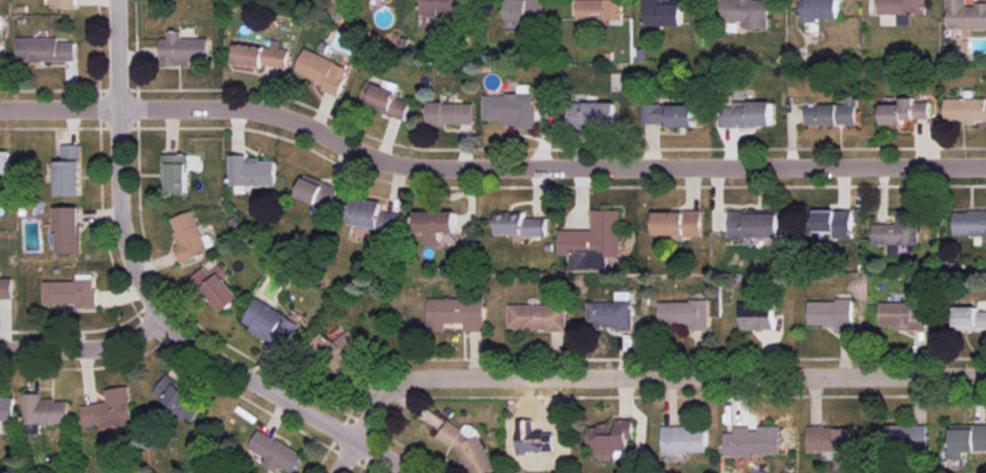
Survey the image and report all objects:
building: (63, 3)
building: (448, 6)
building: (902, 9)
building: (600, 10)
building: (819, 10)
building: (524, 12)
building: (747, 12)
building: (663, 14)
building: (966, 15)
building: (184, 49)
building: (45, 50)
building: (2, 55)
building: (261, 56)
building: (322, 71)
building: (384, 99)
building: (510, 109)
building: (966, 109)
building: (904, 111)
building: (450, 113)
building: (593, 113)
building: (832, 113)
building: (669, 114)
building: (747, 114)
building: (5, 161)
road: (486, 167)
building: (69, 171)
building: (251, 171)
building: (175, 172)
building: (318, 196)
building: (372, 215)
building: (834, 222)
building: (970, 222)
building: (677, 223)
building: (436, 224)
building: (519, 224)
building: (754, 224)
building: (67, 230)
building: (897, 232)
building: (188, 236)
building: (593, 242)
building: (6, 287)
building: (217, 287)
building: (70, 291)
road: (153, 300)
building: (457, 313)
building: (685, 313)
building: (610, 314)
building: (757, 316)
building: (903, 316)
building: (537, 317)
building: (968, 318)
building: (270, 324)
road: (85, 347)
building: (341, 348)
road: (635, 374)
building: (178, 398)
building: (110, 408)
building: (43, 412)
building: (904, 435)
building: (610, 437)
building: (828, 438)
building: (966, 439)
building: (682, 441)
building: (752, 441)
building: (469, 449)
building: (276, 452)

